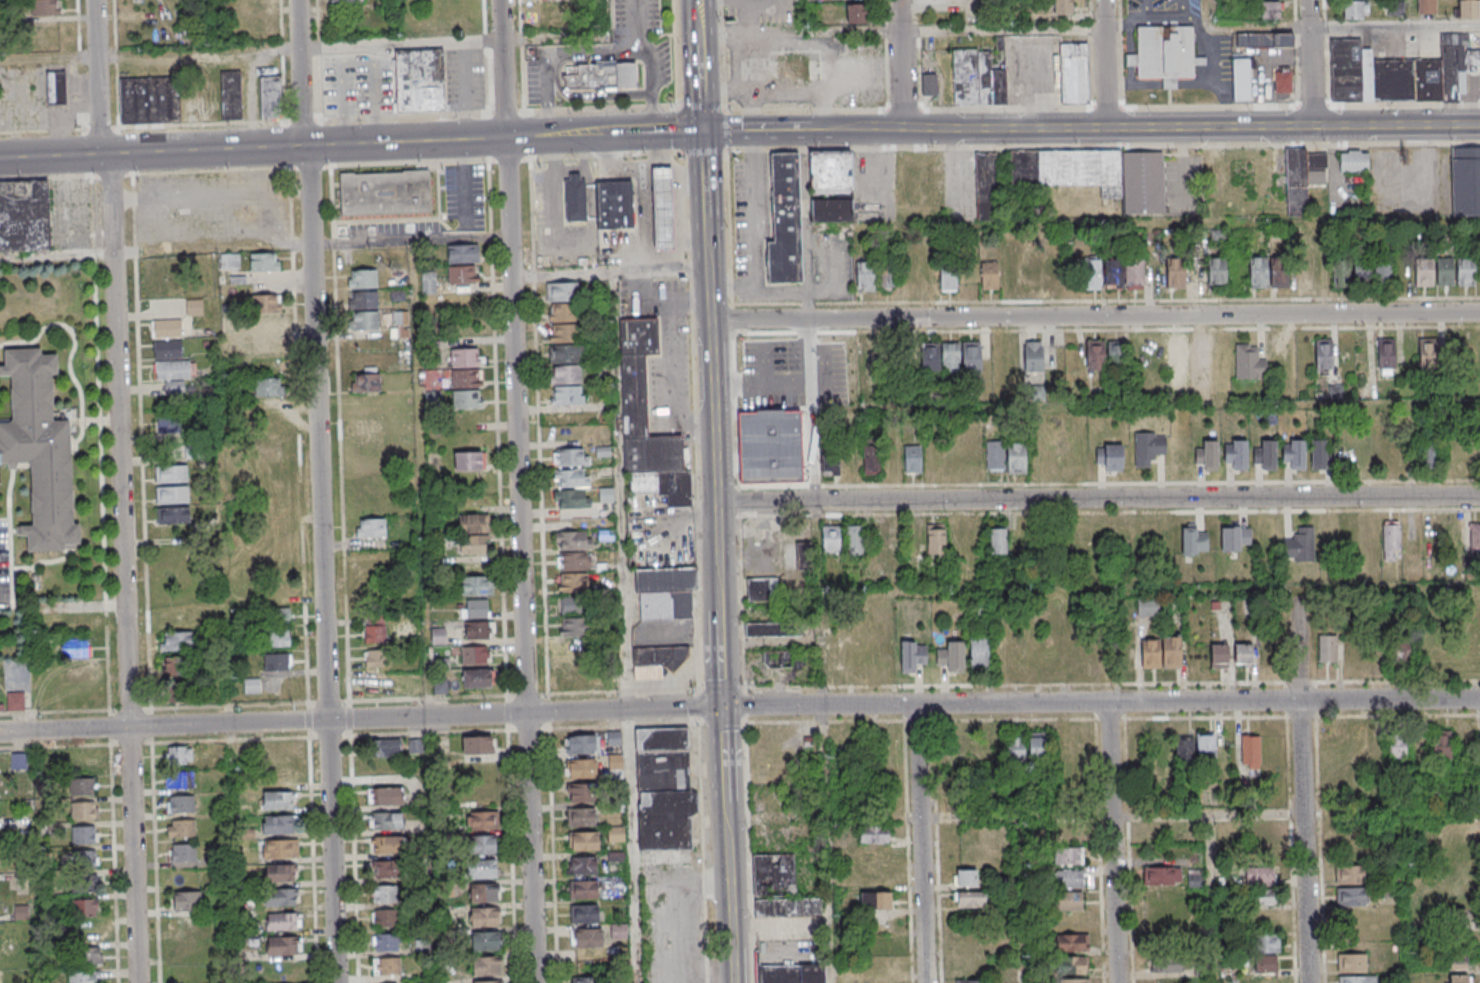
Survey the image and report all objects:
building: (349, 1)
building: (1426, 6)
building: (1062, 7)
road: (1146, 7)
road: (1182, 7)
building: (46, 8)
building: (1468, 8)
building: (1270, 9)
building: (1354, 10)
building: (856, 14)
road: (1175, 14)
road: (1005, 15)
road: (803, 17)
road: (902, 17)
road: (609, 18)
road: (283, 21)
road: (640, 24)
road: (1128, 24)
road: (1340, 25)
road: (902, 34)
building: (1264, 40)
road: (456, 43)
building: (1164, 53)
road: (555, 54)
road: (151, 56)
road: (487, 57)
road: (320, 60)
road: (1314, 63)
road: (1108, 64)
building: (783, 69)
building: (1074, 73)
building: (1403, 74)
building: (602, 75)
road: (1214, 75)
building: (977, 78)
building: (1241, 79)
building: (422, 80)
building: (1282, 81)
road: (903, 82)
building: (929, 84)
building: (56, 87)
road: (653, 88)
building: (182, 97)
building: (270, 97)
road: (255, 99)
road: (509, 111)
road: (244, 123)
road: (1295, 127)
traffic signals: (702, 133)
road: (554, 137)
building: (1410, 154)
building: (1353, 162)
road: (636, 165)
road: (586, 166)
road: (312, 167)
building: (1213, 168)
building: (831, 172)
building: (1098, 174)
road: (67, 177)
building: (1302, 178)
road: (692, 179)
building: (1465, 181)
building: (986, 185)
building: (387, 193)
building: (577, 198)
building: (617, 204)
road: (558, 205)
building: (665, 207)
building: (832, 210)
building: (24, 216)
road: (645, 217)
road: (679, 218)
building: (786, 221)
road: (1145, 225)
road: (694, 238)
road: (256, 247)
building: (229, 261)
building: (264, 262)
building: (462, 266)
building: (1448, 271)
building: (1468, 271)
road: (611, 272)
building: (1260, 272)
building: (1282, 272)
building: (1427, 272)
road: (757, 273)
building: (1030, 273)
building: (1051, 273)
building: (1177, 273)
building: (1196, 273)
building: (1220, 273)
building: (1300, 273)
building: (1137, 274)
building: (1362, 274)
building: (1382, 274)
building: (989, 275)
building: (1094, 275)
building: (1116, 275)
building: (865, 276)
building: (1340, 276)
building: (886, 277)
building: (948, 277)
building: (365, 279)
building: (428, 282)
road: (733, 284)
building: (564, 291)
building: (365, 300)
road: (709, 300)
building: (567, 312)
building: (266, 314)
road: (812, 315)
road: (1095, 316)
building: (400, 318)
building: (366, 321)
building: (178, 322)
building: (229, 324)
building: (568, 333)
building: (167, 348)
building: (1432, 349)
building: (1199, 353)
building: (566, 354)
building: (1179, 354)
building: (1325, 354)
building: (1095, 355)
building: (1115, 355)
building: (971, 356)
building: (1033, 356)
building: (1386, 356)
building: (467, 357)
building: (950, 357)
building: (930, 358)
building: (1249, 362)
building: (174, 374)
building: (569, 374)
building: (468, 379)
building: (368, 383)
road: (763, 383)
building: (268, 386)
building: (570, 395)
building: (469, 399)
building: (645, 402)
road: (1147, 406)
building: (169, 424)
building: (368, 424)
road: (143, 442)
building: (1148, 447)
building: (276, 448)
building: (773, 448)
building: (39, 449)
building: (1235, 454)
building: (1293, 454)
building: (1321, 454)
building: (1430, 454)
building: (994, 455)
building: (1265, 455)
building: (1207, 456)
building: (1109, 457)
building: (572, 458)
building: (1016, 458)
building: (871, 459)
building: (470, 460)
building: (830, 460)
building: (912, 461)
building: (171, 473)
road: (423, 478)
building: (573, 479)
road: (124, 490)
road: (322, 491)
road: (522, 491)
building: (171, 494)
road: (1097, 498)
building: (574, 500)
building: (173, 515)
building: (476, 524)
building: (370, 528)
building: (1267, 534)
building: (1234, 537)
building: (998, 538)
building: (1474, 538)
building: (830, 539)
building: (573, 540)
building: (854, 540)
building: (935, 540)
building: (1194, 540)
building: (1391, 541)
building: (1299, 545)
building: (789, 556)
building: (574, 561)
road: (346, 575)
building: (573, 582)
building: (476, 586)
building: (761, 589)
road: (1155, 591)
building: (666, 593)
building: (573, 605)
building: (1147, 607)
building: (474, 609)
building: (281, 616)
building: (172, 620)
building: (574, 626)
road: (627, 627)
building: (477, 630)
building: (772, 630)
building: (375, 633)
building: (281, 637)
building: (176, 641)
building: (74, 647)
building: (1327, 650)
building: (574, 651)
building: (978, 651)
building: (1161, 653)
building: (1400, 653)
road: (721, 654)
building: (474, 655)
building: (912, 655)
building: (1126, 655)
building: (952, 656)
building: (1230, 656)
building: (375, 658)
building: (777, 659)
building: (658, 660)
building: (276, 662)
building: (174, 666)
building: (477, 678)
building: (571, 678)
building: (376, 682)
road: (1111, 684)
building: (440, 686)
road: (724, 688)
road: (627, 692)
building: (176, 693)
road: (529, 695)
building: (15, 701)
road: (739, 706)
traffic signals: (724, 707)
road: (55, 713)
road: (1016, 719)
road: (724, 723)
road: (528, 730)
building: (614, 737)
road: (175, 743)
building: (1439, 743)
building: (583, 744)
building: (477, 745)
building: (1015, 745)
building: (415, 746)
building: (1037, 746)
building: (1161, 746)
road: (112, 747)
building: (386, 747)
building: (1205, 748)
building: (1397, 748)
building: (1184, 750)
building: (276, 751)
road: (310, 751)
building: (1250, 752)
building: (182, 756)
road: (725, 760)
building: (615, 766)
building: (584, 769)
building: (281, 775)
building: (183, 780)
road: (1306, 786)
building: (83, 787)
building: (664, 789)
building: (1210, 790)
building: (586, 793)
building: (388, 796)
building: (277, 800)
building: (185, 805)
building: (85, 811)
road: (1068, 815)
building: (583, 817)
building: (389, 821)
building: (487, 821)
building: (276, 824)
building: (185, 829)
building: (1071, 830)
building: (788, 832)
building: (1155, 833)
building: (1261, 833)
building: (873, 834)
building: (85, 835)
road: (1115, 841)
building: (587, 842)
road: (831, 843)
road: (924, 843)
road: (157, 845)
building: (390, 845)
building: (484, 845)
building: (284, 849)
building: (186, 853)
building: (1069, 856)
building: (86, 860)
building: (585, 866)
building: (389, 869)
building: (484, 869)
building: (280, 873)
building: (1350, 875)
building: (772, 876)
building: (1161, 876)
building: (966, 878)
building: (1070, 878)
building: (1195, 878)
building: (86, 883)
building: (1263, 886)
building: (586, 890)
building: (486, 893)
building: (386, 894)
building: (1351, 897)
building: (283, 898)
road: (730, 898)
road: (1215, 898)
road: (1023, 899)
building: (186, 900)
building: (876, 900)
building: (970, 900)
building: (1070, 900)
building: (0, 908)
building: (87, 908)
building: (786, 909)
building: (586, 915)
building: (486, 917)
building: (387, 918)
building: (284, 922)
building: (590, 939)
building: (487, 941)
building: (1076, 942)
building: (388, 943)
building: (285, 946)
building: (1266, 953)
building: (90, 957)
building: (1456, 962)
building: (1354, 964)
building: (1071, 965)
building: (1166, 965)
building: (488, 966)
building: (388, 967)
building: (791, 974)
building: (86, 977)
building: (1459, 978)
building: (586, 980)
building: (1360, 980)
building: (972, 981)
building: (1073, 981)
building: (491, 982)

